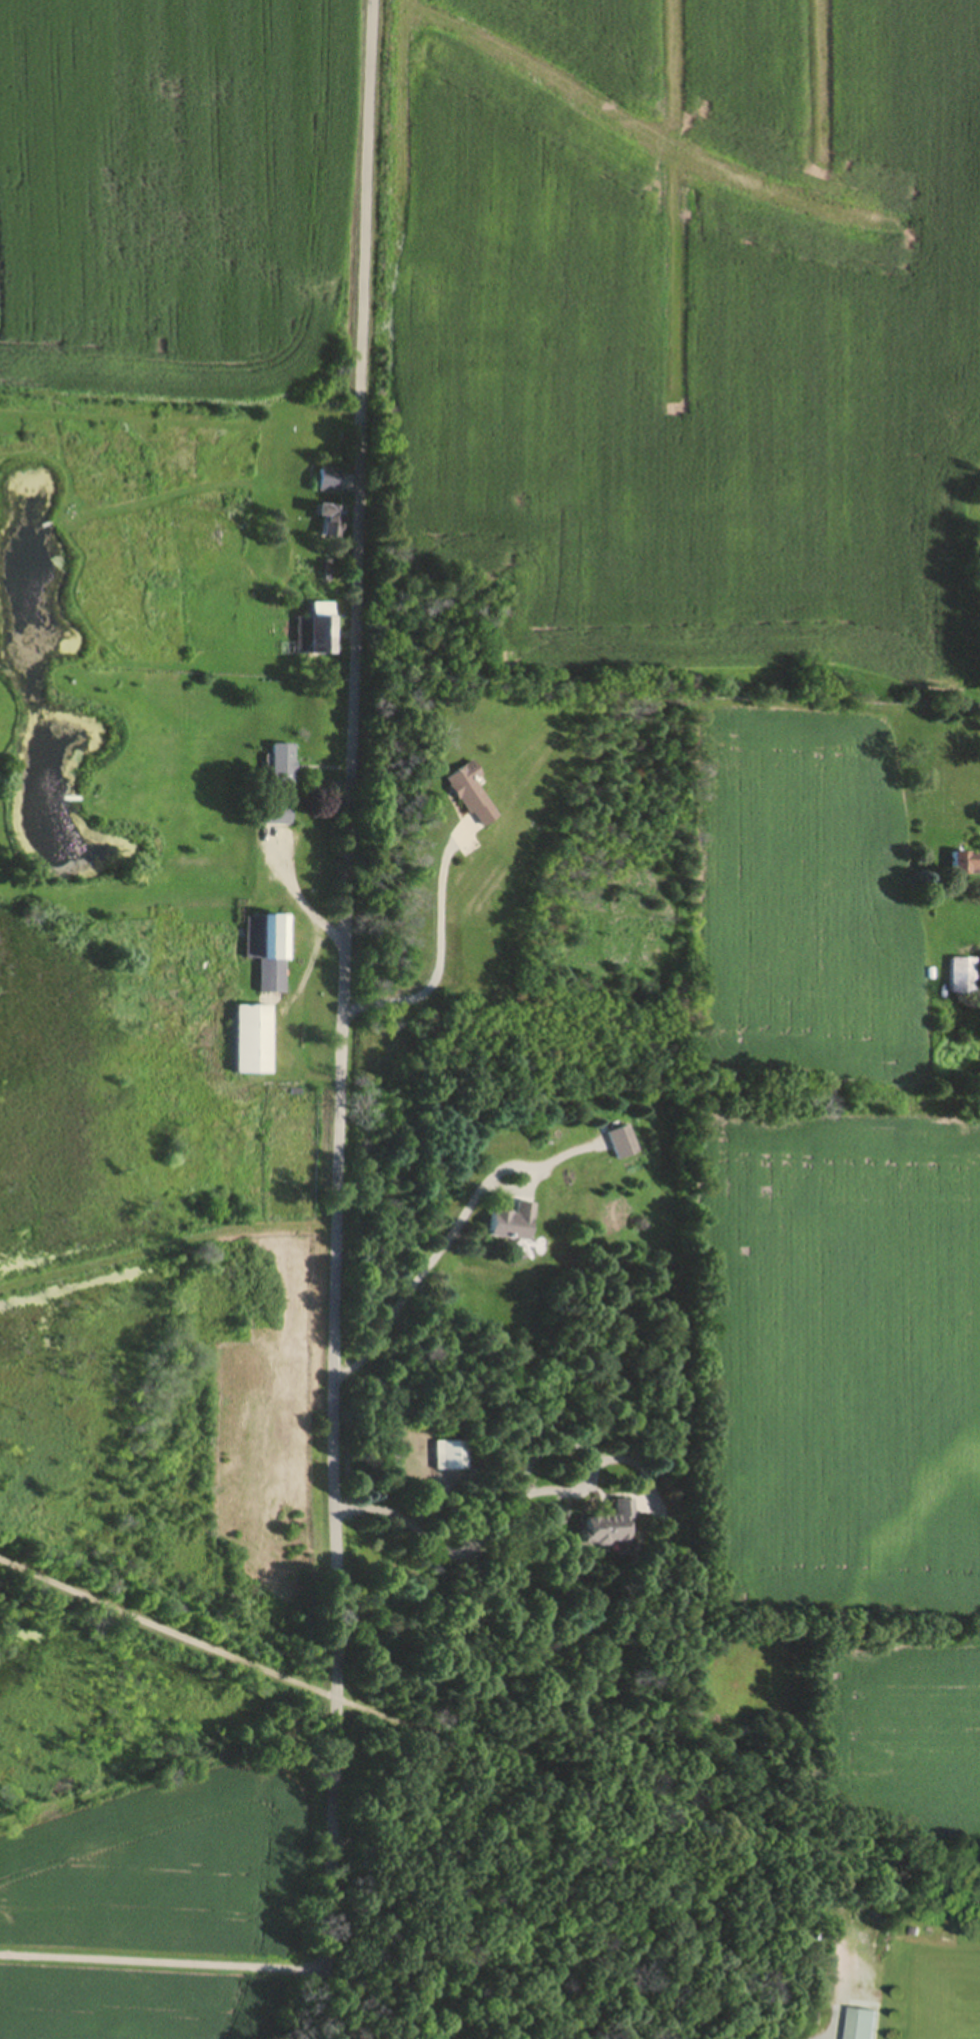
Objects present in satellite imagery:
building: (327, 482)
building: (330, 523)
building: (315, 634)
building: (281, 769)
building: (471, 796)
building: (275, 816)
building: (965, 860)
road: (302, 905)
building: (266, 952)
road: (439, 955)
building: (961, 978)
road: (342, 1019)
building: (251, 1041)
building: (622, 1145)
building: (511, 1224)
road: (421, 1277)
building: (450, 1458)
road: (514, 1506)
building: (610, 1528)
road: (481, 1754)
road: (164, 1955)
building: (862, 2026)

